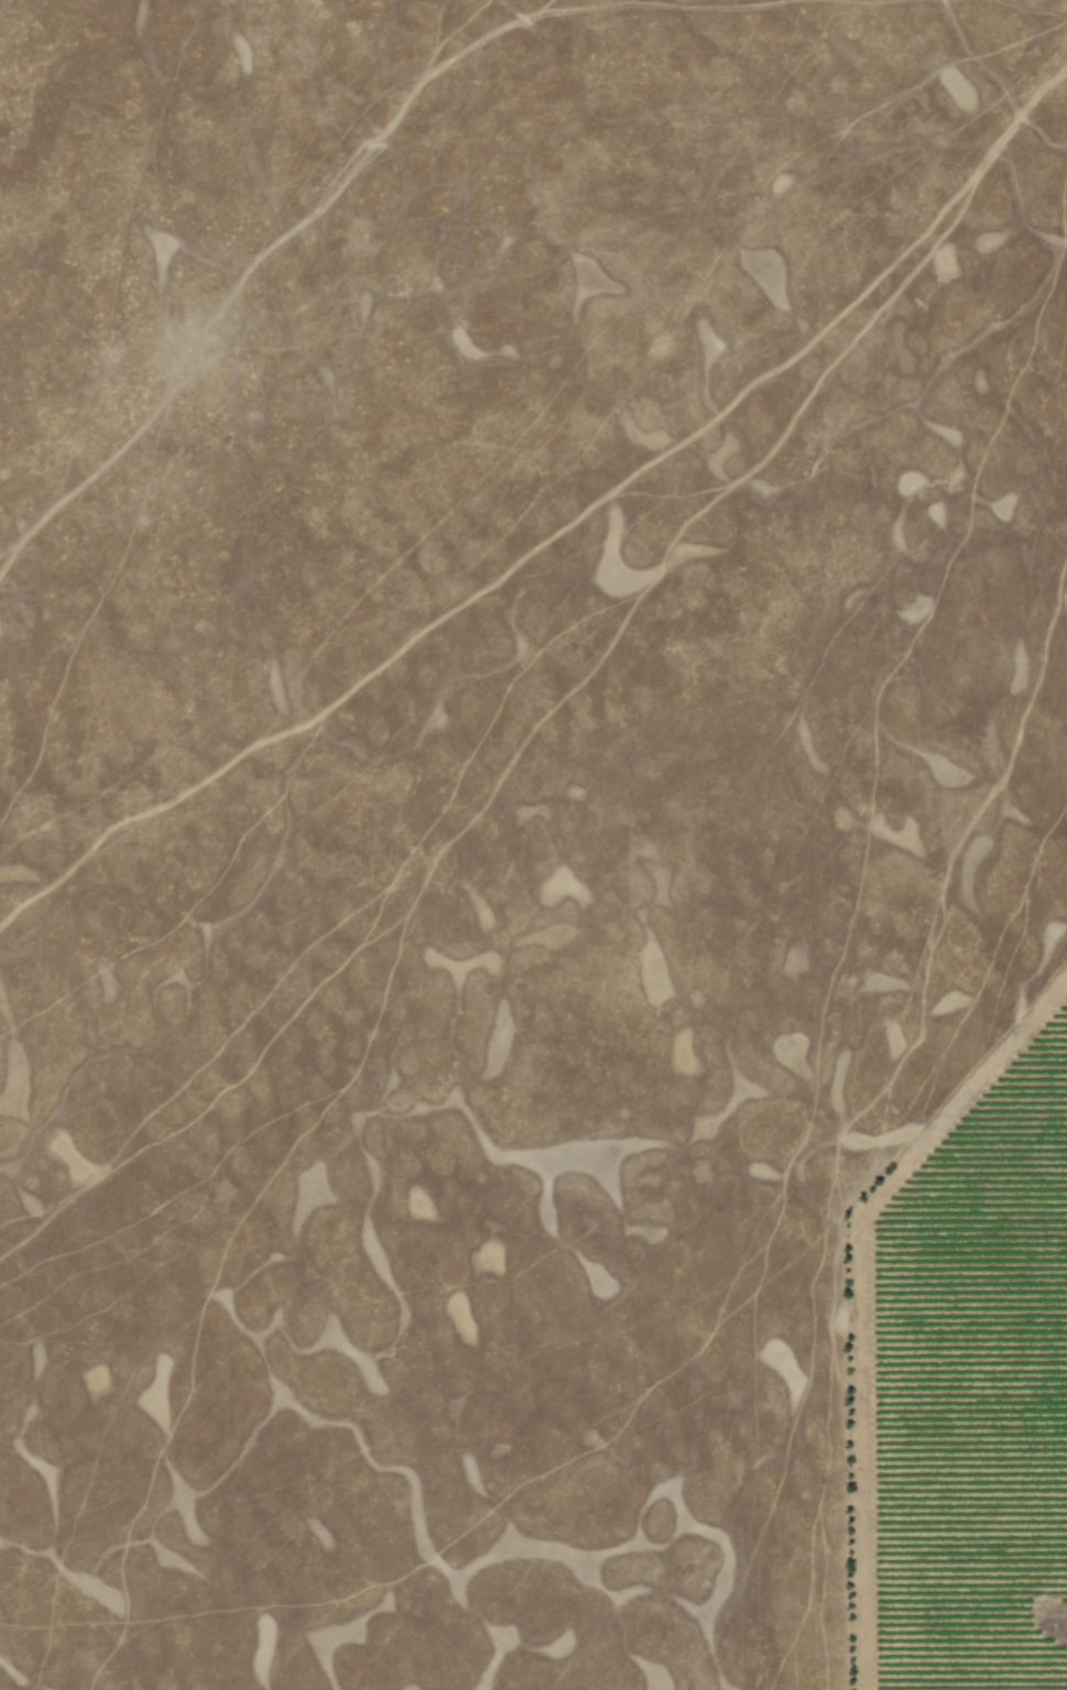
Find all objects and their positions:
crop: (957, 1374)

